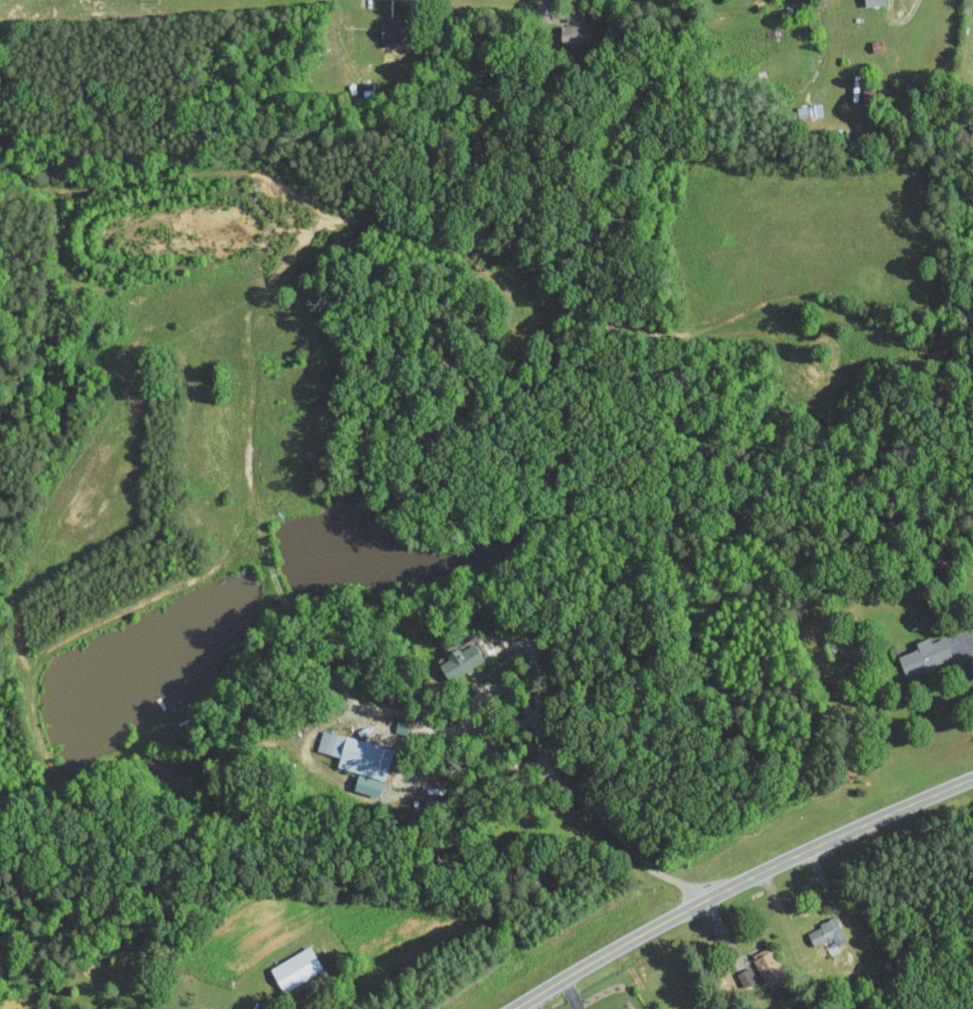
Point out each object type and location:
building: (872, 2)
building: (388, 30)
building: (573, 34)
building: (924, 655)
building: (459, 660)
road: (965, 662)
road: (544, 752)
building: (357, 759)
road: (738, 885)
road: (799, 888)
building: (825, 932)
building: (766, 964)
building: (294, 968)
building: (744, 976)
road: (569, 994)
road: (531, 1004)

